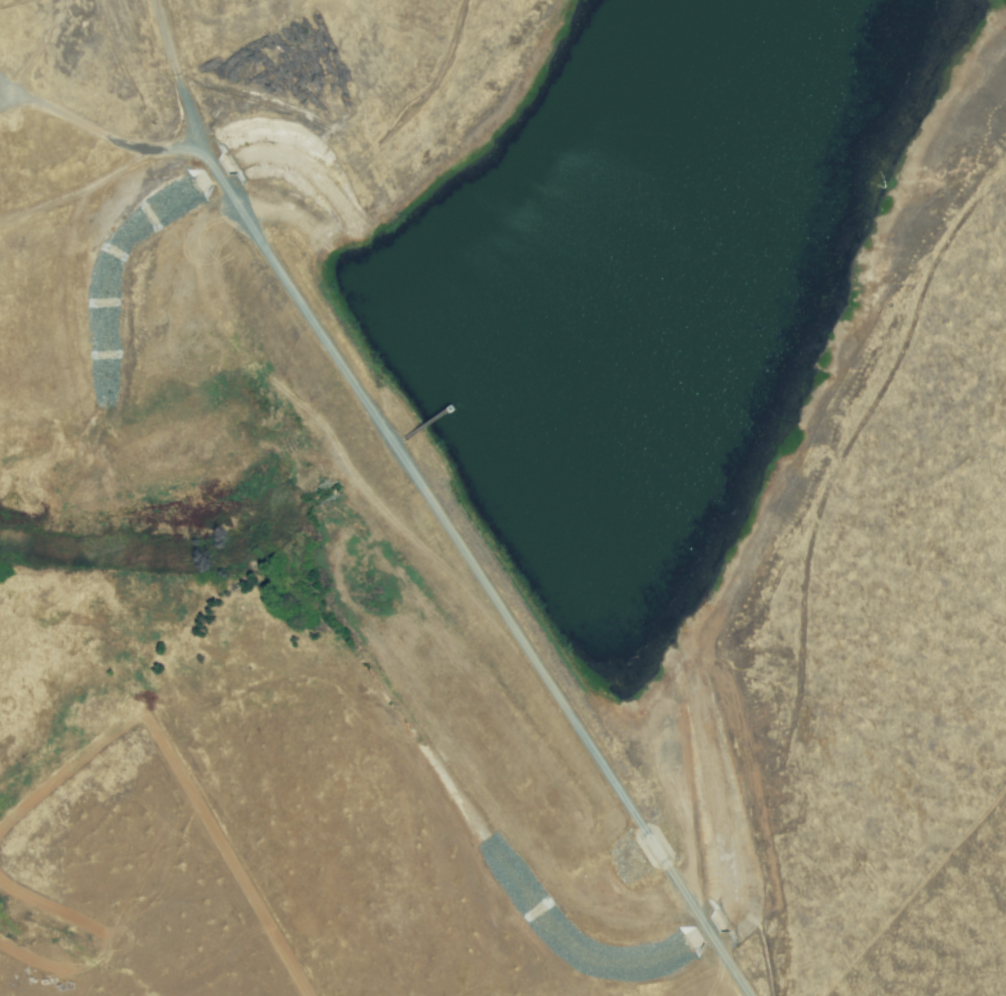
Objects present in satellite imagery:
road: (8, 83)
road: (8, 97)
road: (107, 134)
road: (387, 138)
airport: (503, 498)
road: (434, 506)
road: (179, 779)
road: (77, 938)

